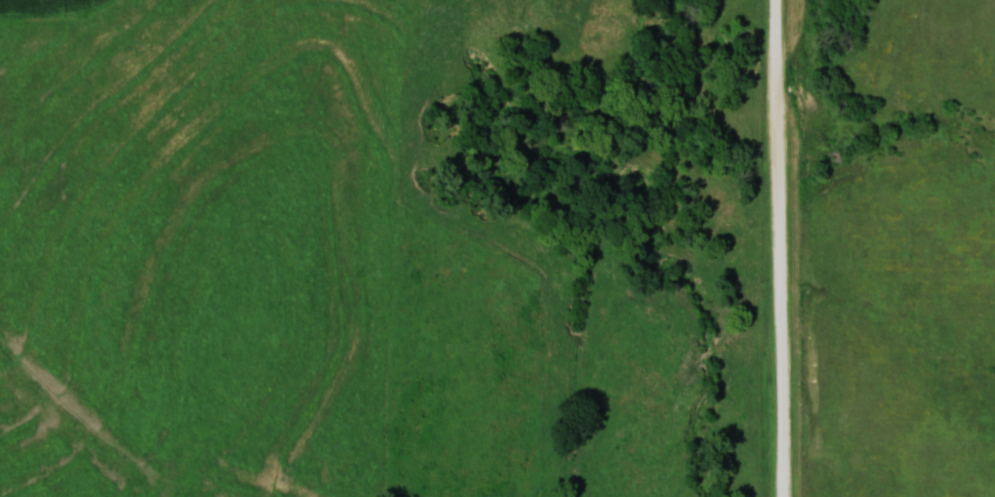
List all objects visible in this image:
road: (779, 248)

